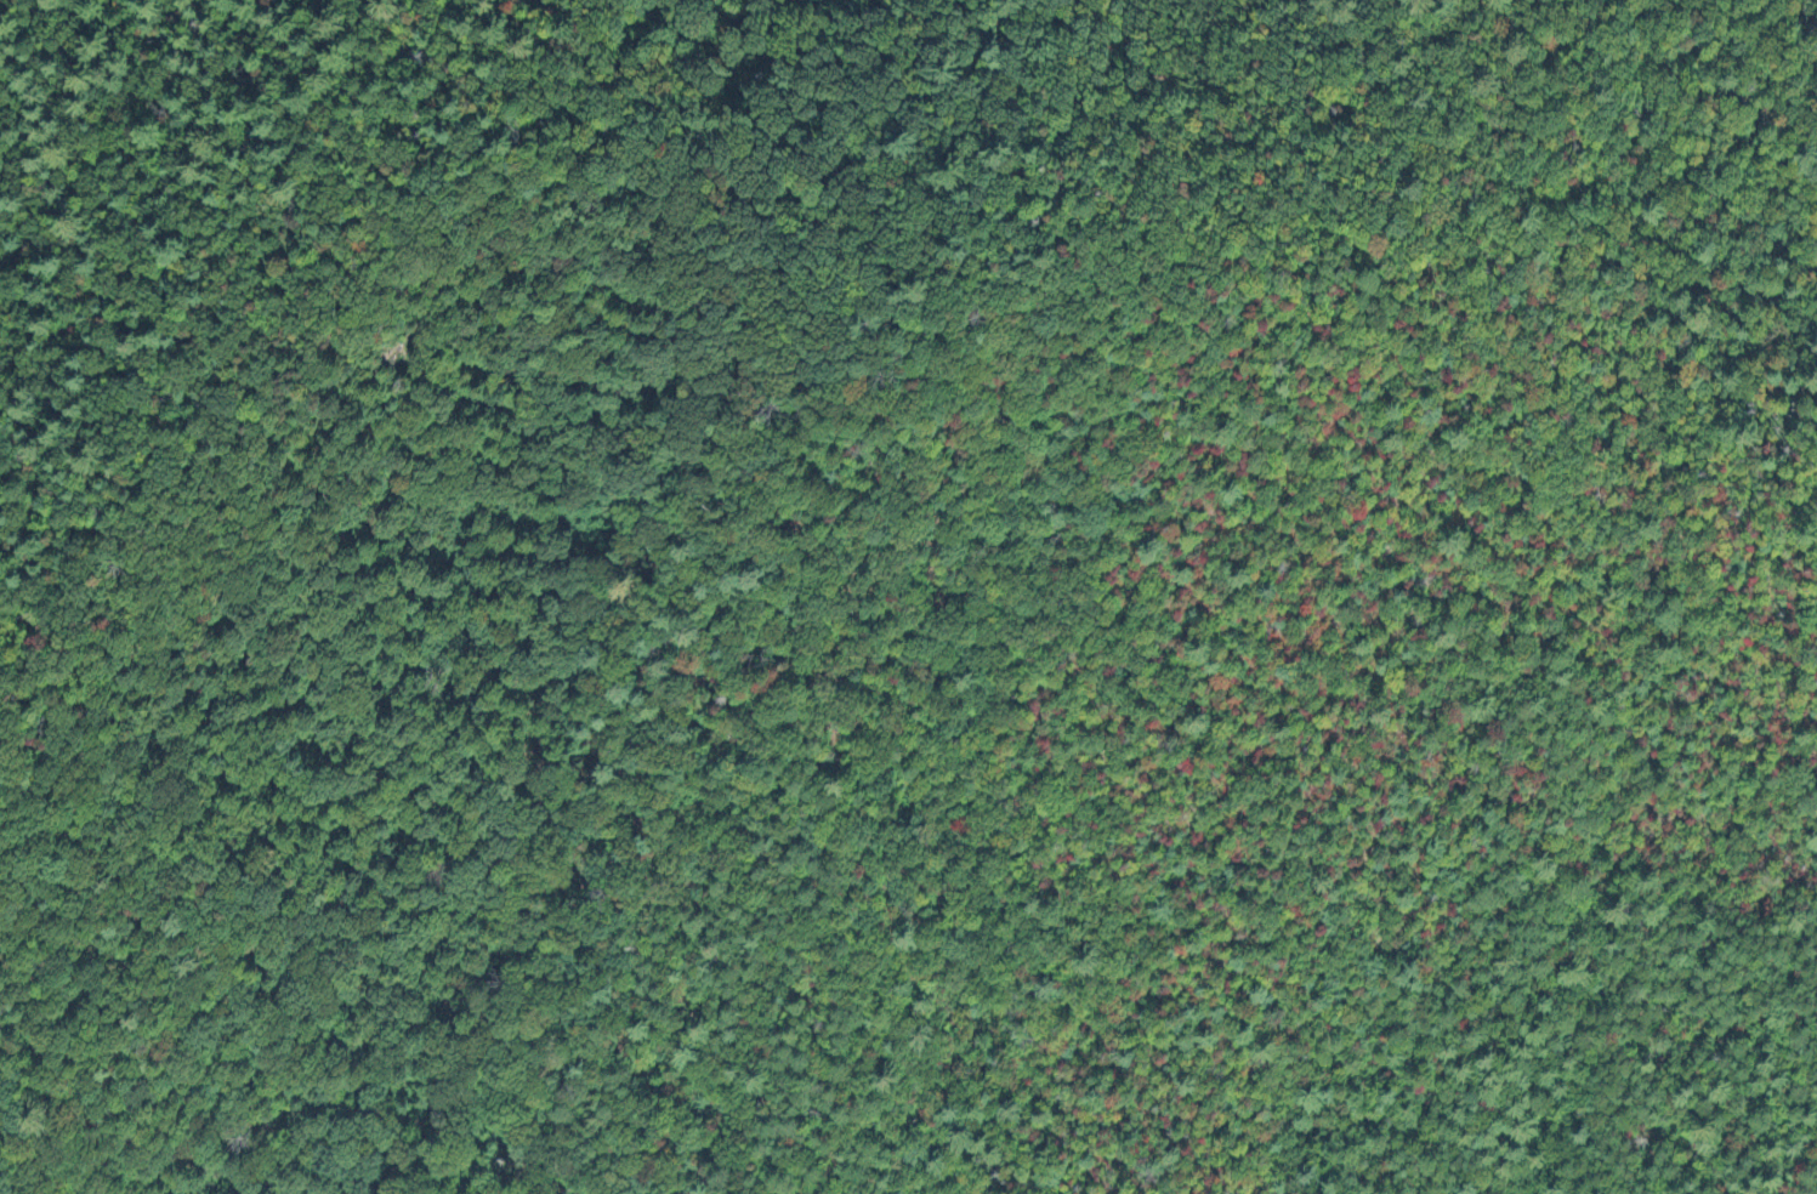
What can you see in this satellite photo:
road: (1785, 141)

